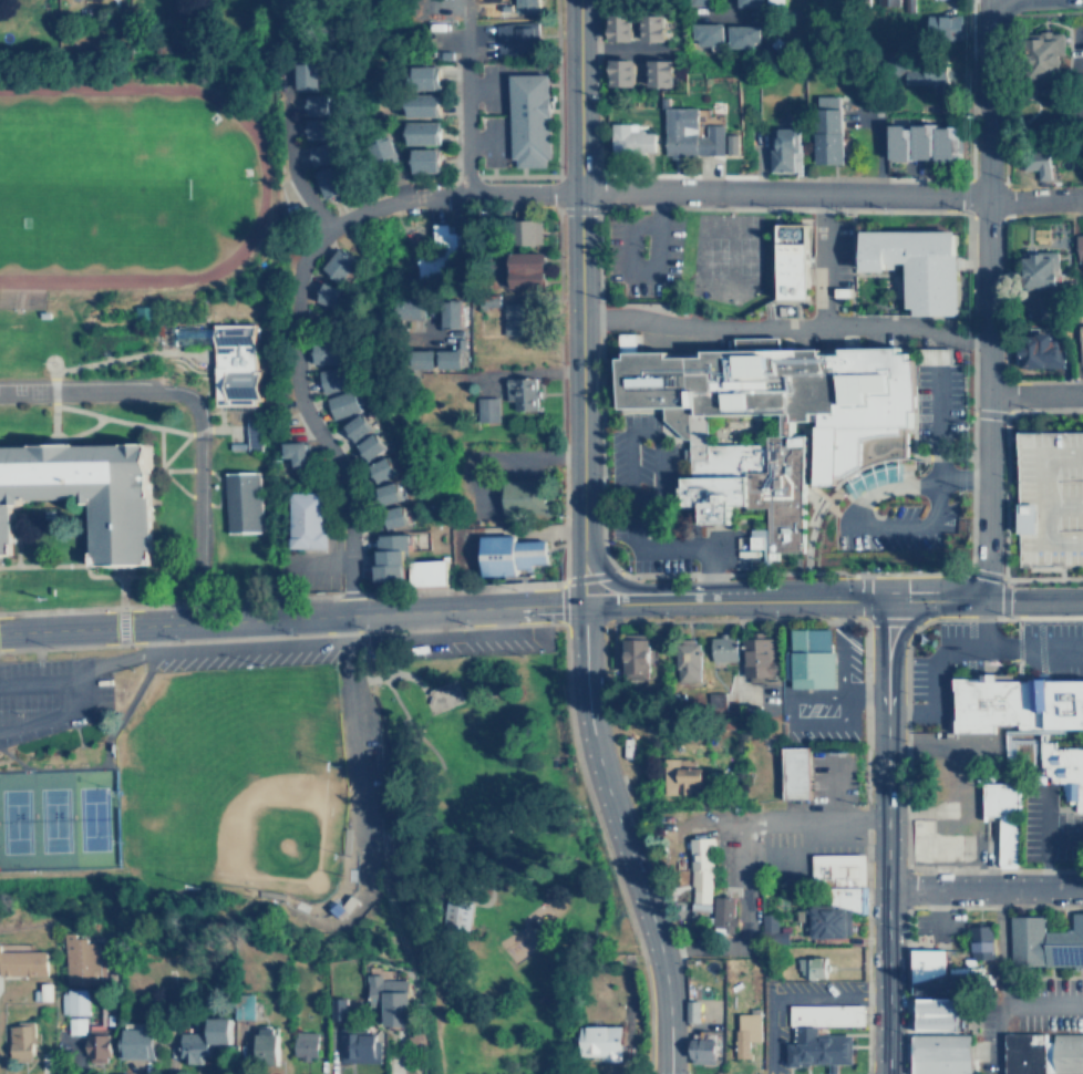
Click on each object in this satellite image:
building: (888, 1)
building: (702, 2)
building: (749, 2)
building: (525, 6)
road: (721, 7)
building: (945, 25)
building: (622, 27)
building: (656, 27)
building: (708, 33)
building: (742, 35)
building: (517, 37)
road: (618, 49)
building: (1046, 51)
building: (622, 71)
building: (660, 71)
building: (307, 75)
building: (425, 76)
building: (928, 78)
road: (468, 101)
building: (321, 104)
building: (423, 104)
building: (529, 118)
building: (318, 128)
building: (829, 128)
building: (423, 132)
building: (690, 133)
building: (631, 138)
building: (914, 141)
building: (732, 143)
building: (947, 144)
building: (784, 147)
building: (383, 148)
building: (322, 153)
road: (292, 157)
building: (425, 159)
building: (1038, 164)
building: (330, 179)
park: (82, 182)
track: (121, 184)
road: (775, 194)
building: (529, 231)
building: (1080, 248)
road: (577, 252)
building: (436, 254)
parking lot: (641, 254)
park: (723, 259)
building: (793, 260)
road: (819, 260)
building: (341, 265)
building: (919, 266)
building: (527, 269)
building: (1040, 269)
road: (643, 270)
building: (333, 296)
road: (984, 300)
building: (451, 312)
building: (515, 318)
road: (362, 321)
road: (782, 326)
building: (1082, 340)
road: (299, 350)
building: (1041, 350)
building: (326, 351)
building: (425, 358)
building: (450, 358)
building: (336, 378)
building: (523, 392)
road: (1033, 392)
building: (343, 403)
building: (487, 409)
parking lot: (937, 409)
road: (192, 413)
building: (359, 426)
road: (653, 430)
building: (254, 434)
building: (372, 445)
road: (936, 447)
building: (739, 450)
building: (297, 452)
building: (383, 468)
building: (390, 493)
building: (1051, 495)
parking lot: (1051, 495)
parking lot: (641, 496)
building: (85, 497)
building: (524, 497)
building: (244, 500)
building: (395, 517)
building: (305, 519)
road: (858, 525)
parking lot: (897, 526)
road: (669, 547)
building: (509, 554)
road: (579, 554)
building: (393, 555)
road: (601, 570)
building: (427, 571)
road: (771, 600)
traffic signals: (879, 600)
road: (981, 600)
road: (621, 602)
road: (290, 619)
parking lot: (450, 648)
road: (1032, 648)
building: (720, 650)
building: (754, 657)
road: (121, 658)
building: (631, 659)
building: (807, 659)
parking lot: (239, 660)
building: (684, 662)
road: (936, 665)
flagpole: (984, 668)
road: (80, 695)
building: (440, 695)
parking lot: (45, 698)
building: (1017, 706)
building: (1062, 770)
building: (792, 773)
building: (675, 775)
park: (228, 782)
road: (828, 792)
park: (59, 816)
building: (988, 819)
road: (823, 826)
road: (1044, 833)
road: (884, 836)
road: (617, 839)
building: (937, 845)
park: (485, 859)
building: (834, 868)
building: (697, 870)
road: (982, 887)
building: (719, 913)
building: (454, 917)
road: (742, 920)
building: (826, 922)
building: (769, 925)
building: (981, 941)
building: (1042, 946)
building: (80, 959)
building: (22, 962)
building: (808, 968)
building: (932, 975)
road: (999, 981)
road: (1041, 993)
road: (788, 996)
building: (70, 1002)
building: (244, 1005)
building: (938, 1014)
building: (373, 1021)
building: (742, 1033)
building: (819, 1035)
building: (87, 1037)
building: (200, 1040)
building: (597, 1042)
building: (18, 1043)
building: (133, 1043)
building: (258, 1044)
building: (301, 1045)
building: (699, 1049)
building: (941, 1053)
building: (1042, 1053)

